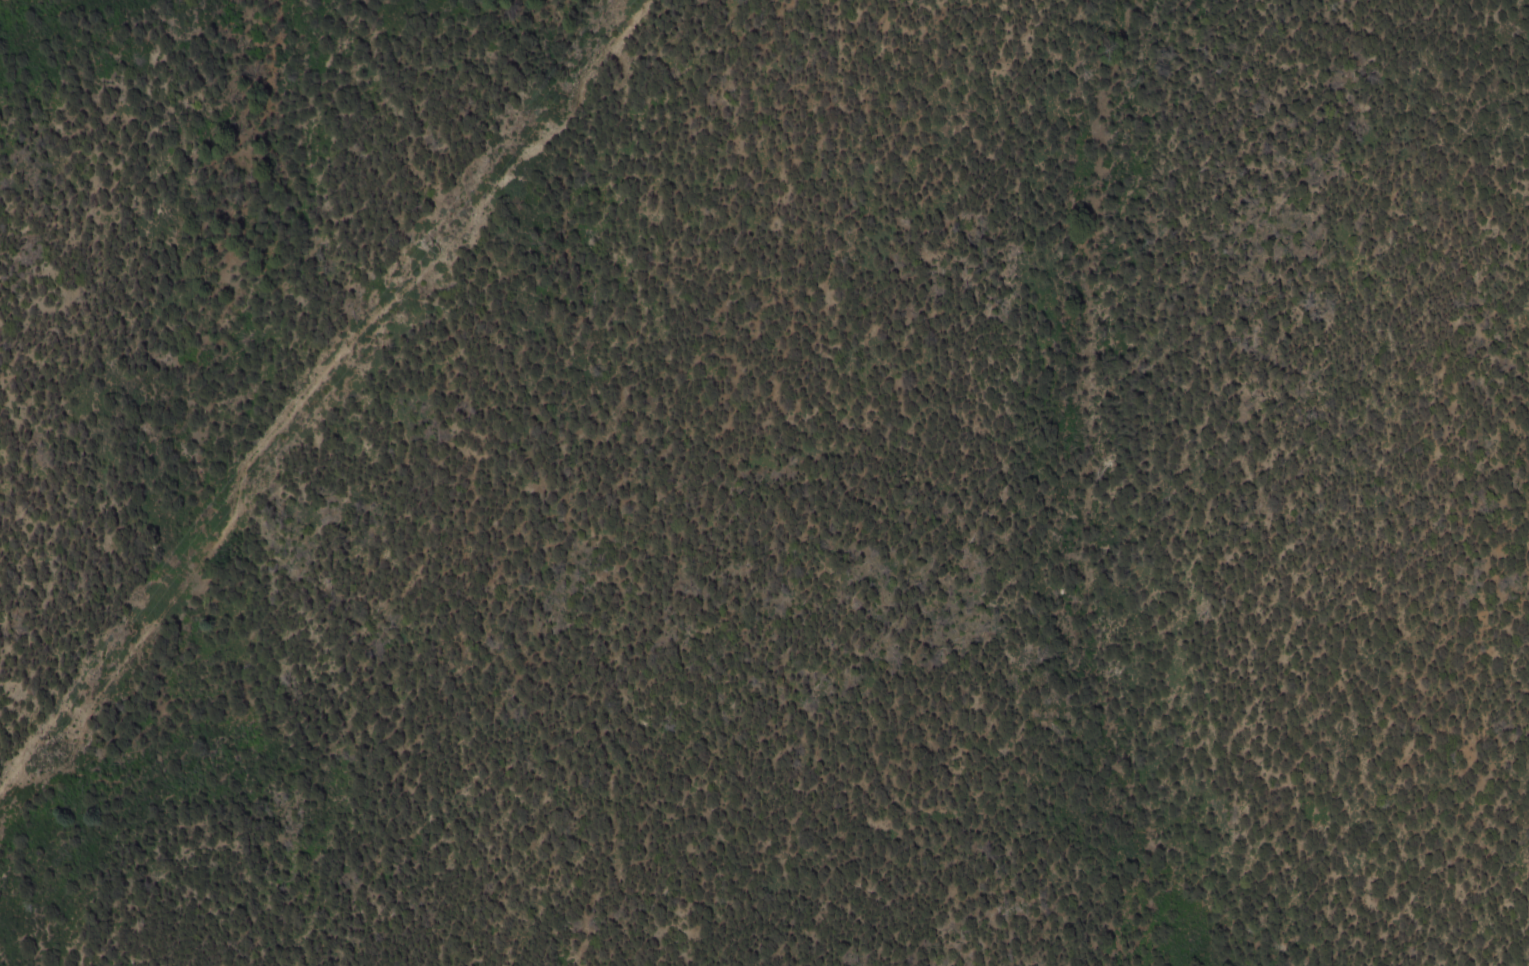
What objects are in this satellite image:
power tower: (436, 250)
power tower: (47, 743)

